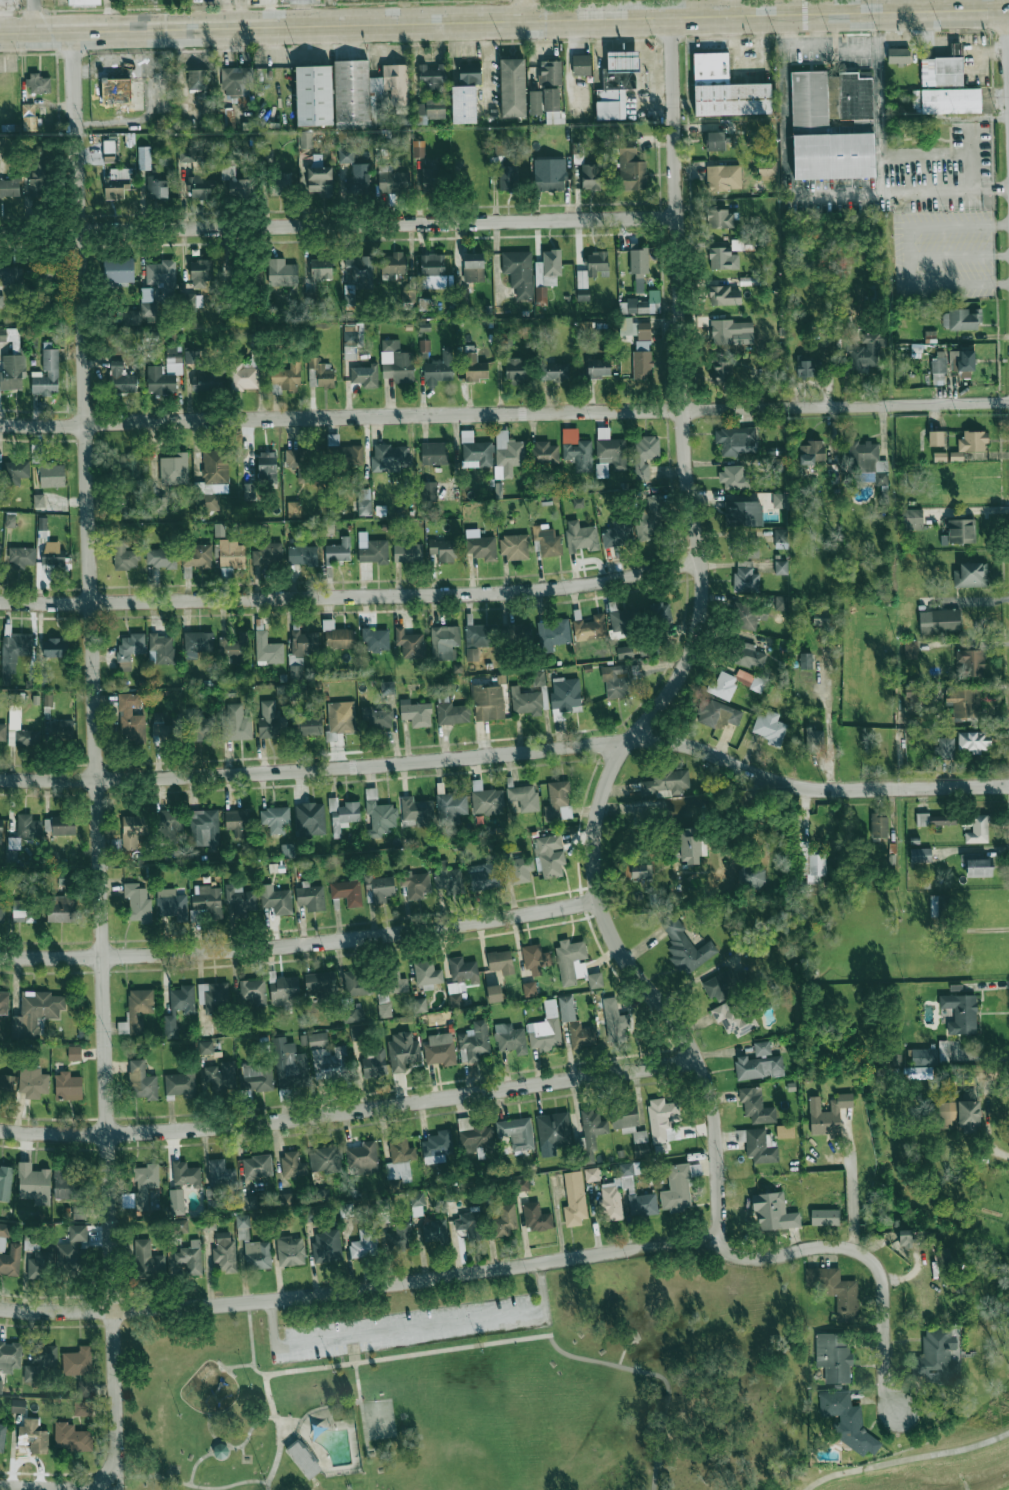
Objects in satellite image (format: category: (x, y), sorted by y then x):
road: (0, 1)
building: (84, 2)
road: (866, 5)
road: (890, 5)
road: (731, 6)
road: (521, 9)
road: (36, 14)
road: (504, 19)
road: (783, 29)
road: (817, 45)
road: (841, 47)
building: (955, 49)
building: (898, 55)
road: (486, 58)
building: (581, 65)
building: (942, 71)
building: (550, 72)
building: (469, 73)
building: (432, 76)
building: (198, 79)
building: (237, 81)
building: (38, 83)
building: (396, 83)
building: (616, 84)
building: (512, 87)
building: (725, 89)
building: (116, 91)
building: (353, 93)
building: (314, 95)
building: (551, 97)
building: (378, 101)
building: (951, 101)
building: (535, 102)
road: (876, 102)
building: (463, 104)
road: (152, 110)
building: (430, 110)
building: (29, 117)
building: (833, 128)
building: (305, 139)
building: (716, 140)
building: (500, 145)
building: (418, 149)
building: (109, 151)
building: (187, 154)
building: (345, 155)
building: (144, 158)
road: (972, 158)
building: (510, 161)
building: (631, 168)
building: (766, 170)
building: (432, 173)
building: (550, 174)
building: (39, 176)
building: (358, 176)
building: (590, 176)
building: (508, 177)
building: (723, 177)
building: (393, 179)
building: (320, 180)
building: (235, 181)
building: (116, 183)
building: (281, 184)
building: (9, 187)
building: (157, 187)
building: (200, 187)
road: (824, 194)
building: (720, 218)
road: (338, 226)
building: (737, 244)
road: (960, 255)
building: (722, 258)
building: (638, 259)
building: (394, 264)
building: (473, 267)
building: (321, 269)
building: (592, 269)
building: (433, 270)
building: (118, 271)
building: (361, 271)
building: (201, 272)
building: (281, 272)
building: (518, 272)
building: (11, 274)
building: (47, 275)
building: (162, 275)
building: (723, 295)
building: (1, 301)
building: (642, 304)
building: (143, 309)
building: (960, 320)
building: (728, 330)
building: (6, 334)
building: (424, 345)
building: (639, 345)
building: (866, 351)
building: (193, 356)
building: (396, 362)
building: (962, 362)
building: (806, 366)
building: (475, 367)
building: (938, 367)
building: (598, 368)
building: (439, 369)
building: (517, 369)
building: (722, 370)
building: (12, 371)
building: (555, 371)
building: (322, 372)
building: (47, 374)
building: (365, 375)
building: (164, 376)
building: (286, 376)
building: (244, 377)
building: (121, 379)
building: (205, 382)
road: (504, 414)
building: (935, 438)
building: (736, 441)
building: (970, 443)
building: (610, 449)
building: (577, 450)
building: (475, 451)
building: (811, 452)
building: (434, 453)
building: (544, 453)
building: (37, 454)
building: (507, 454)
building: (645, 454)
building: (353, 456)
building: (390, 457)
building: (296, 458)
building: (869, 461)
building: (267, 463)
building: (130, 466)
building: (174, 468)
building: (601, 468)
building: (16, 469)
building: (52, 475)
building: (734, 477)
building: (211, 479)
building: (429, 491)
building: (39, 500)
building: (364, 502)
building: (159, 505)
building: (293, 509)
building: (743, 513)
building: (650, 515)
building: (10, 519)
building: (913, 519)
building: (42, 523)
building: (219, 529)
building: (617, 534)
building: (580, 536)
building: (548, 541)
building: (480, 547)
building: (514, 547)
building: (371, 549)
building: (444, 549)
building: (338, 550)
building: (408, 552)
building: (0, 553)
building: (232, 553)
building: (302, 553)
building: (268, 554)
building: (125, 555)
building: (53, 556)
building: (200, 556)
building: (21, 557)
building: (161, 558)
building: (781, 567)
building: (971, 575)
building: (747, 577)
road: (351, 594)
building: (781, 603)
building: (750, 616)
building: (821, 616)
building: (624, 620)
building: (939, 621)
building: (593, 627)
building: (512, 633)
building: (552, 634)
building: (481, 635)
building: (338, 636)
building: (375, 639)
building: (198, 641)
building: (444, 641)
building: (410, 643)
building: (56, 647)
building: (236, 647)
building: (161, 648)
building: (130, 649)
building: (267, 649)
building: (910, 649)
building: (301, 650)
building: (625, 652)
building: (14, 653)
road: (687, 653)
building: (749, 655)
building: (806, 660)
building: (970, 662)
building: (539, 678)
building: (619, 679)
building: (751, 681)
building: (722, 685)
building: (387, 687)
building: (565, 694)
building: (915, 696)
building: (490, 700)
building: (526, 701)
building: (964, 702)
building: (451, 711)
building: (416, 713)
building: (717, 714)
building: (378, 715)
building: (131, 716)
building: (341, 717)
building: (269, 719)
road: (828, 720)
building: (310, 721)
building: (236, 723)
building: (160, 726)
building: (202, 727)
building: (770, 728)
building: (63, 730)
building: (3, 732)
building: (24, 737)
building: (814, 739)
building: (973, 741)
building: (946, 748)
road: (508, 751)
road: (97, 762)
building: (665, 783)
building: (523, 797)
building: (486, 799)
building: (558, 801)
road: (690, 805)
building: (450, 808)
building: (416, 812)
building: (379, 814)
building: (342, 815)
building: (275, 819)
building: (311, 819)
building: (237, 820)
building: (936, 820)
building: (59, 825)
building: (170, 825)
building: (28, 826)
building: (880, 827)
building: (204, 828)
building: (976, 828)
building: (0, 830)
building: (133, 830)
building: (14, 843)
building: (691, 844)
building: (288, 850)
building: (549, 855)
building: (920, 855)
building: (813, 861)
building: (977, 865)
building: (517, 868)
building: (640, 870)
building: (482, 876)
building: (751, 876)
building: (448, 878)
building: (415, 884)
building: (379, 888)
building: (347, 892)
building: (311, 898)
building: (207, 899)
building: (276, 900)
building: (241, 901)
building: (172, 902)
building: (137, 904)
building: (62, 906)
building: (939, 906)
building: (2, 909)
building: (24, 911)
road: (977, 932)
road: (299, 943)
building: (685, 946)
building: (535, 958)
building: (571, 961)
building: (500, 962)
building: (427, 973)
building: (460, 978)
building: (595, 980)
building: (320, 983)
building: (726, 983)
building: (359, 984)
building: (399, 985)
building: (283, 989)
building: (529, 989)
building: (252, 991)
building: (494, 993)
building: (213, 996)
building: (4, 1002)
building: (420, 1005)
building: (178, 1008)
building: (566, 1008)
building: (384, 1009)
building: (137, 1010)
building: (36, 1012)
building: (960, 1013)
building: (355, 1015)
building: (734, 1019)
building: (615, 1020)
building: (206, 1029)
building: (545, 1029)
building: (356, 1033)
building: (581, 1035)
building: (510, 1038)
building: (318, 1040)
building: (473, 1042)
building: (206, 1047)
building: (762, 1048)
building: (439, 1049)
building: (404, 1050)
building: (943, 1050)
building: (74, 1053)
building: (924, 1057)
building: (330, 1062)
building: (375, 1064)
building: (290, 1065)
building: (758, 1067)
building: (219, 1075)
building: (256, 1077)
building: (32, 1081)
building: (142, 1081)
building: (7, 1084)
building: (179, 1085)
building: (68, 1086)
building: (756, 1106)
road: (350, 1110)
building: (828, 1114)
building: (961, 1115)
building: (661, 1118)
building: (630, 1126)
building: (785, 1131)
building: (552, 1132)
building: (516, 1133)
building: (590, 1134)
building: (478, 1140)
building: (760, 1145)
building: (437, 1146)
building: (362, 1158)
building: (325, 1159)
building: (400, 1160)
building: (293, 1164)
building: (257, 1167)
building: (220, 1173)
building: (186, 1174)
building: (591, 1174)
building: (5, 1182)
building: (34, 1183)
building: (67, 1184)
building: (520, 1184)
building: (141, 1187)
building: (676, 1189)
building: (610, 1190)
building: (452, 1194)
building: (211, 1199)
building: (286, 1199)
building: (574, 1199)
building: (249, 1202)
road: (852, 1202)
building: (177, 1203)
building: (417, 1203)
building: (346, 1210)
building: (78, 1212)
building: (773, 1212)
building: (311, 1215)
building: (536, 1217)
building: (825, 1217)
building: (505, 1221)
building: (180, 1225)
building: (468, 1225)
building: (434, 1230)
building: (2, 1236)
building: (400, 1238)
building: (905, 1238)
building: (364, 1244)
building: (252, 1246)
building: (326, 1246)
building: (71, 1247)
building: (290, 1251)
building: (225, 1252)
building: (36, 1257)
building: (190, 1257)
building: (944, 1258)
building: (11, 1260)
building: (147, 1260)
road: (869, 1260)
road: (541, 1279)
road: (361, 1288)
building: (835, 1290)
road: (271, 1316)
road: (409, 1329)
parking lot: (415, 1329)
building: (44, 1354)
building: (10, 1356)
building: (833, 1356)
building: (937, 1357)
road: (367, 1360)
building: (78, 1361)
road: (235, 1364)
building: (31, 1373)
road: (657, 1375)
building: (0, 1386)
park: (482, 1387)
building: (85, 1388)
road: (269, 1394)
road: (351, 1401)
building: (18, 1406)
building: (83, 1408)
park: (376, 1419)
building: (847, 1421)
building: (2, 1436)
building: (33, 1436)
building: (71, 1438)
road: (238, 1445)
road: (280, 1447)
road: (222, 1457)
road: (199, 1458)
road: (905, 1458)
building: (303, 1460)
road: (272, 1468)
road: (186, 1483)
road: (45, 1486)

